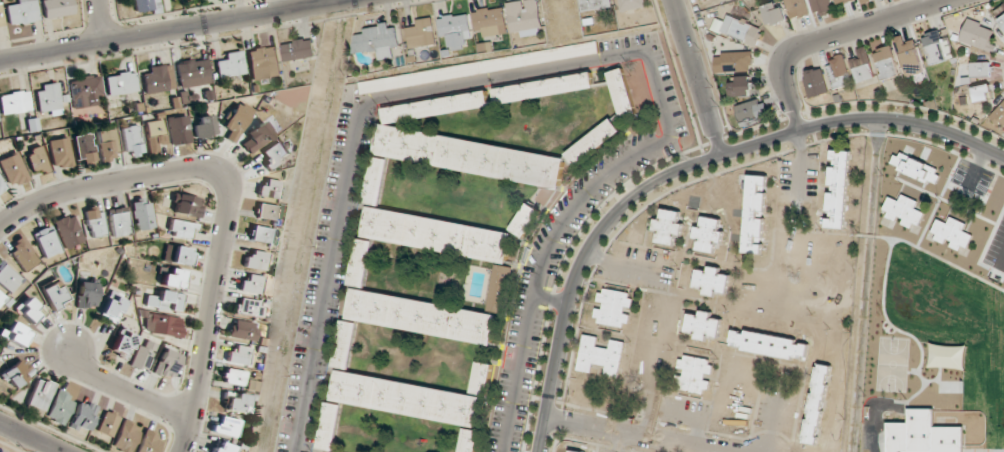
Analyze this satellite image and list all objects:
building: (865, 0)
building: (841, 1)
building: (630, 4)
building: (595, 5)
building: (145, 6)
building: (821, 7)
building: (57, 8)
building: (797, 8)
building: (22, 12)
building: (774, 13)
building: (999, 14)
building: (524, 15)
building: (1, 18)
road: (103, 20)
building: (489, 22)
road: (171, 29)
building: (455, 30)
building: (739, 30)
building: (421, 33)
building: (978, 35)
road: (830, 38)
building: (377, 40)
building: (937, 46)
building: (298, 49)
building: (907, 52)
building: (738, 61)
building: (264, 62)
building: (886, 63)
building: (231, 66)
building: (863, 67)
building: (980, 69)
building: (839, 72)
building: (193, 73)
road: (697, 77)
building: (158, 78)
building: (404, 80)
building: (816, 82)
building: (121, 83)
building: (742, 86)
building: (85, 91)
building: (983, 92)
building: (622, 93)
building: (49, 100)
building: (15, 102)
building: (752, 110)
building: (999, 115)
building: (236, 120)
building: (202, 127)
building: (178, 130)
building: (154, 135)
building: (254, 137)
building: (132, 140)
building: (594, 142)
building: (108, 145)
building: (85, 149)
building: (61, 152)
building: (273, 154)
building: (37, 161)
road: (682, 168)
building: (915, 168)
building: (13, 169)
building: (376, 181)
building: (2, 186)
building: (838, 188)
building: (268, 189)
road: (233, 194)
building: (186, 205)
building: (265, 212)
building: (901, 212)
building: (142, 214)
building: (755, 214)
building: (526, 220)
building: (119, 221)
building: (95, 222)
building: (668, 227)
building: (182, 229)
building: (67, 230)
building: (259, 234)
building: (708, 234)
building: (951, 234)
building: (46, 242)
building: (448, 243)
building: (22, 254)
building: (180, 256)
building: (254, 260)
building: (8, 278)
building: (171, 278)
building: (711, 280)
building: (249, 284)
building: (86, 293)
building: (54, 294)
building: (2, 298)
building: (165, 301)
building: (247, 307)
building: (112, 308)
building: (613, 308)
building: (413, 309)
building: (30, 310)
building: (703, 325)
building: (163, 327)
building: (241, 330)
building: (15, 333)
building: (120, 343)
building: (346, 344)
building: (769, 344)
building: (142, 355)
building: (236, 355)
building: (601, 355)
building: (165, 363)
building: (17, 373)
building: (694, 375)
building: (232, 377)
building: (483, 378)
road: (124, 390)
building: (39, 397)
building: (412, 402)
building: (235, 403)
building: (817, 404)
building: (59, 407)
building: (82, 416)
building: (107, 423)
building: (224, 426)
road: (634, 433)
building: (923, 434)
building: (125, 436)
road: (32, 437)
building: (148, 442)
building: (220, 447)
building: (575, 451)

